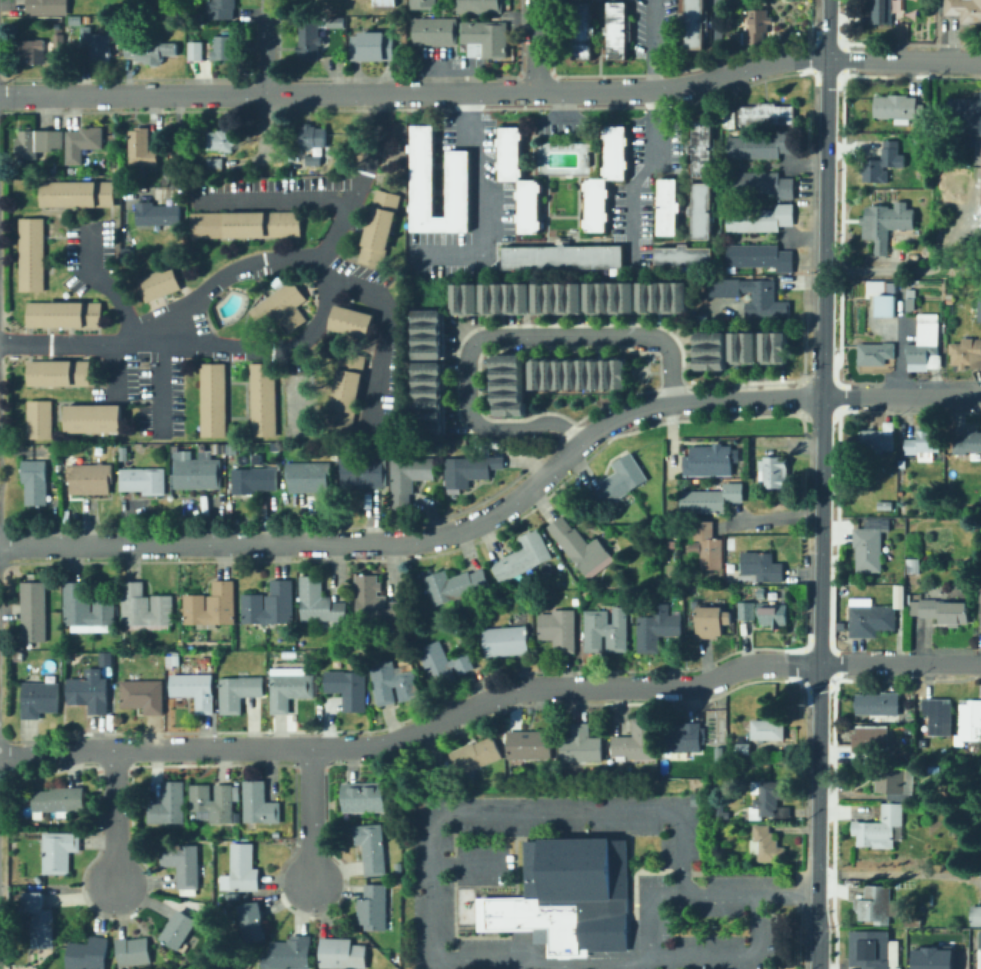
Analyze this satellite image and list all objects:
building: (385, 2)
building: (423, 3)
building: (477, 6)
building: (48, 7)
building: (224, 9)
building: (963, 10)
building: (882, 11)
building: (87, 19)
building: (334, 21)
building: (693, 23)
building: (59, 26)
building: (756, 28)
building: (616, 29)
building: (433, 30)
building: (581, 30)
building: (483, 38)
road: (714, 40)
building: (309, 41)
building: (60, 42)
building: (97, 46)
building: (373, 46)
road: (536, 46)
road: (266, 47)
building: (224, 48)
building: (29, 51)
building: (150, 51)
building: (196, 51)
road: (435, 65)
road: (492, 92)
road: (561, 106)
building: (896, 108)
building: (764, 113)
building: (966, 115)
road: (561, 120)
road: (266, 125)
building: (926, 127)
road: (654, 136)
building: (313, 137)
building: (117, 138)
building: (221, 141)
building: (38, 143)
building: (83, 143)
building: (760, 144)
building: (700, 146)
building: (142, 149)
building: (614, 150)
road: (175, 152)
building: (508, 153)
building: (585, 158)
building: (314, 160)
road: (803, 162)
building: (883, 164)
building: (216, 167)
building: (112, 172)
road: (359, 180)
building: (164, 182)
building: (759, 182)
building: (457, 183)
building: (980, 187)
building: (76, 192)
building: (927, 193)
road: (271, 198)
building: (595, 203)
road: (476, 204)
building: (527, 205)
building: (666, 205)
building: (700, 210)
building: (157, 214)
building: (759, 217)
building: (244, 223)
building: (885, 224)
building: (377, 227)
road: (804, 238)
building: (30, 252)
building: (563, 256)
building: (683, 256)
building: (757, 257)
road: (105, 281)
building: (157, 282)
road: (324, 284)
building: (662, 296)
building: (505, 297)
building: (557, 297)
building: (609, 297)
building: (464, 298)
building: (764, 299)
building: (911, 299)
building: (950, 300)
building: (887, 305)
building: (280, 306)
building: (979, 309)
building: (63, 313)
road: (769, 318)
building: (350, 320)
road: (387, 330)
building: (428, 332)
road: (498, 333)
road: (86, 345)
building: (925, 345)
building: (742, 346)
building: (772, 346)
building: (709, 350)
building: (968, 353)
building: (875, 354)
road: (114, 368)
building: (56, 372)
building: (578, 372)
road: (158, 381)
building: (507, 384)
building: (346, 389)
road: (901, 396)
building: (429, 397)
building: (211, 398)
building: (261, 398)
road: (694, 400)
building: (92, 417)
building: (38, 418)
building: (877, 440)
building: (967, 443)
building: (923, 444)
building: (201, 446)
building: (217, 447)
building: (121, 451)
building: (228, 455)
building: (240, 455)
building: (255, 458)
building: (709, 459)
road: (821, 463)
building: (902, 464)
building: (411, 468)
building: (183, 469)
building: (31, 470)
building: (207, 470)
building: (471, 470)
building: (372, 471)
building: (349, 472)
building: (773, 473)
building: (317, 475)
building: (295, 476)
building: (98, 477)
building: (76, 478)
building: (129, 478)
building: (262, 478)
building: (152, 480)
building: (240, 480)
building: (620, 481)
road: (837, 487)
building: (400, 492)
building: (33, 493)
building: (901, 493)
building: (714, 499)
building: (884, 508)
road: (776, 516)
building: (565, 535)
road: (304, 544)
building: (709, 547)
building: (869, 548)
building: (524, 557)
building: (590, 557)
building: (914, 566)
building: (762, 567)
building: (455, 586)
building: (761, 592)
building: (900, 595)
building: (31, 596)
building: (374, 600)
building: (980, 600)
building: (319, 603)
building: (270, 605)
building: (87, 607)
building: (212, 607)
building: (145, 608)
building: (941, 611)
building: (764, 613)
building: (870, 618)
building: (712, 622)
building: (31, 625)
building: (658, 629)
building: (560, 630)
building: (607, 630)
building: (507, 641)
building: (177, 660)
building: (444, 663)
road: (899, 663)
road: (980, 675)
building: (59, 679)
building: (394, 683)
building: (348, 689)
building: (291, 690)
building: (195, 691)
building: (239, 692)
building: (90, 694)
building: (143, 696)
building: (40, 700)
building: (878, 704)
building: (218, 709)
building: (939, 716)
building: (970, 720)
building: (768, 729)
road: (413, 730)
building: (683, 739)
building: (637, 741)
building: (868, 743)
building: (530, 745)
building: (581, 745)
building: (744, 749)
building: (476, 755)
building: (707, 768)
building: (896, 783)
building: (397, 787)
building: (364, 797)
building: (60, 800)
building: (699, 800)
building: (770, 800)
building: (14, 801)
building: (215, 803)
building: (169, 804)
building: (260, 804)
building: (722, 812)
road: (310, 817)
road: (115, 818)
building: (882, 827)
building: (767, 845)
building: (372, 848)
building: (59, 851)
building: (941, 859)
building: (183, 866)
building: (244, 869)
building: (400, 871)
building: (909, 885)
building: (398, 888)
building: (570, 897)
building: (877, 905)
building: (375, 907)
building: (223, 911)
building: (975, 914)
building: (39, 920)
building: (252, 922)
building: (913, 922)
building: (180, 930)
road: (430, 942)
road: (817, 947)
building: (873, 950)
building: (134, 952)
building: (89, 954)
building: (290, 954)
building: (343, 954)
road: (731, 954)
building: (931, 957)

